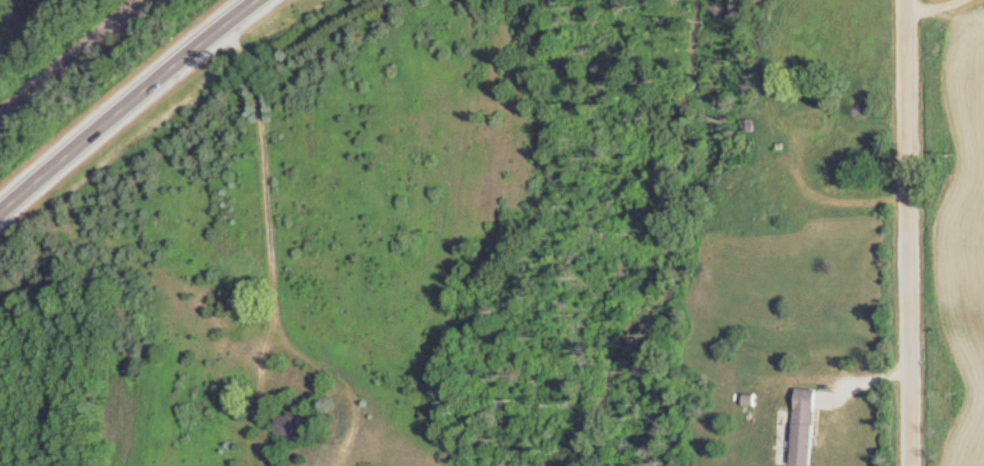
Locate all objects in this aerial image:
road: (936, 6)
railway: (75, 61)
road: (129, 108)
building: (820, 123)
road: (265, 164)
road: (913, 233)
road: (342, 375)
road: (262, 387)
building: (298, 429)
building: (809, 429)

